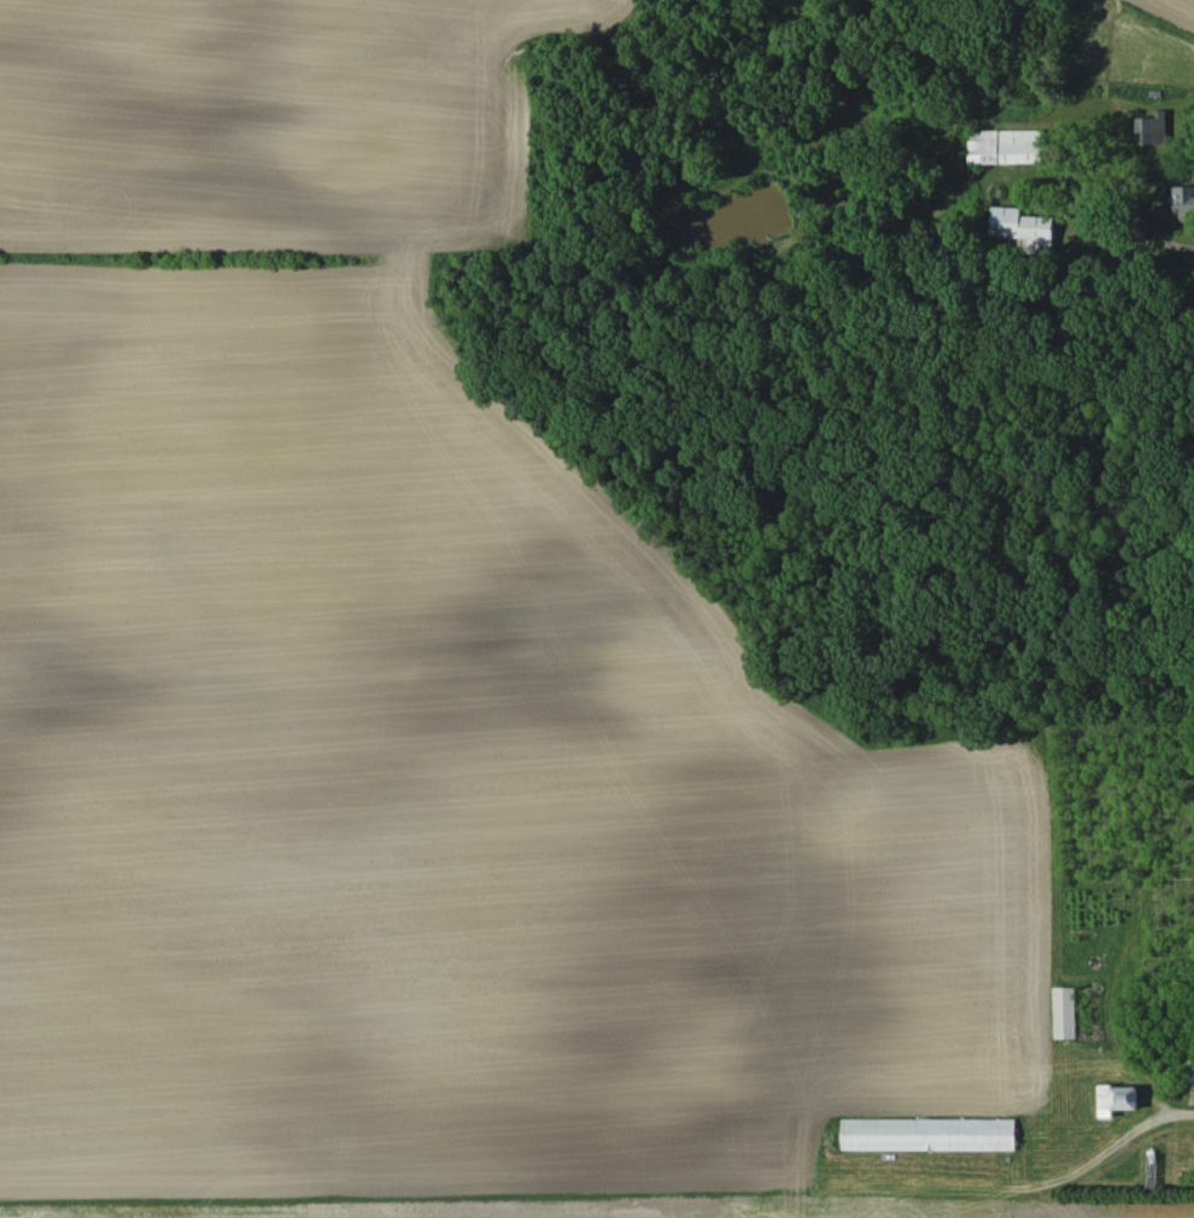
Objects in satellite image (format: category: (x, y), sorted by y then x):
building: (1152, 128)
building: (1006, 146)
building: (1183, 200)
building: (1022, 226)
road: (1132, 236)
building: (1064, 1011)
building: (1193, 1070)
building: (1116, 1097)
road: (1175, 1114)
building: (927, 1132)

